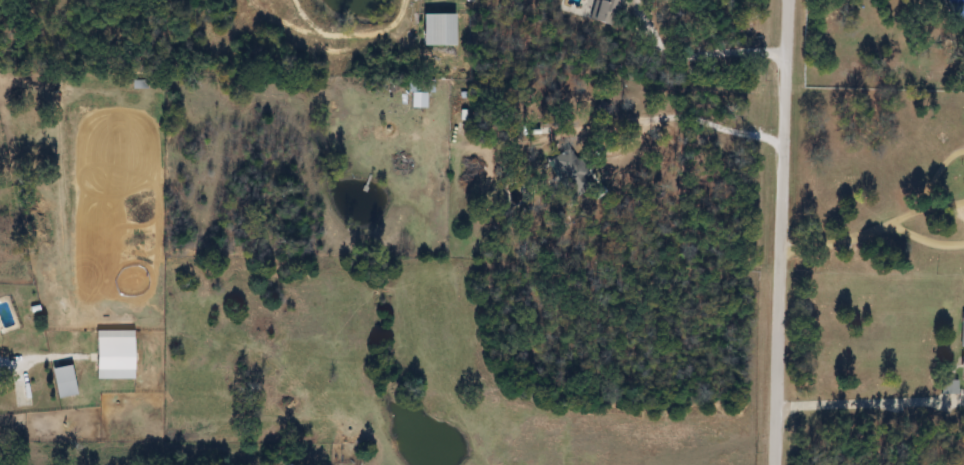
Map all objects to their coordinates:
building: (960, 10)
building: (608, 11)
building: (439, 28)
road: (701, 42)
building: (140, 83)
building: (419, 92)
road: (679, 109)
building: (572, 170)
road: (872, 229)
road: (771, 232)
building: (963, 349)
building: (115, 354)
building: (64, 381)
road: (862, 404)

